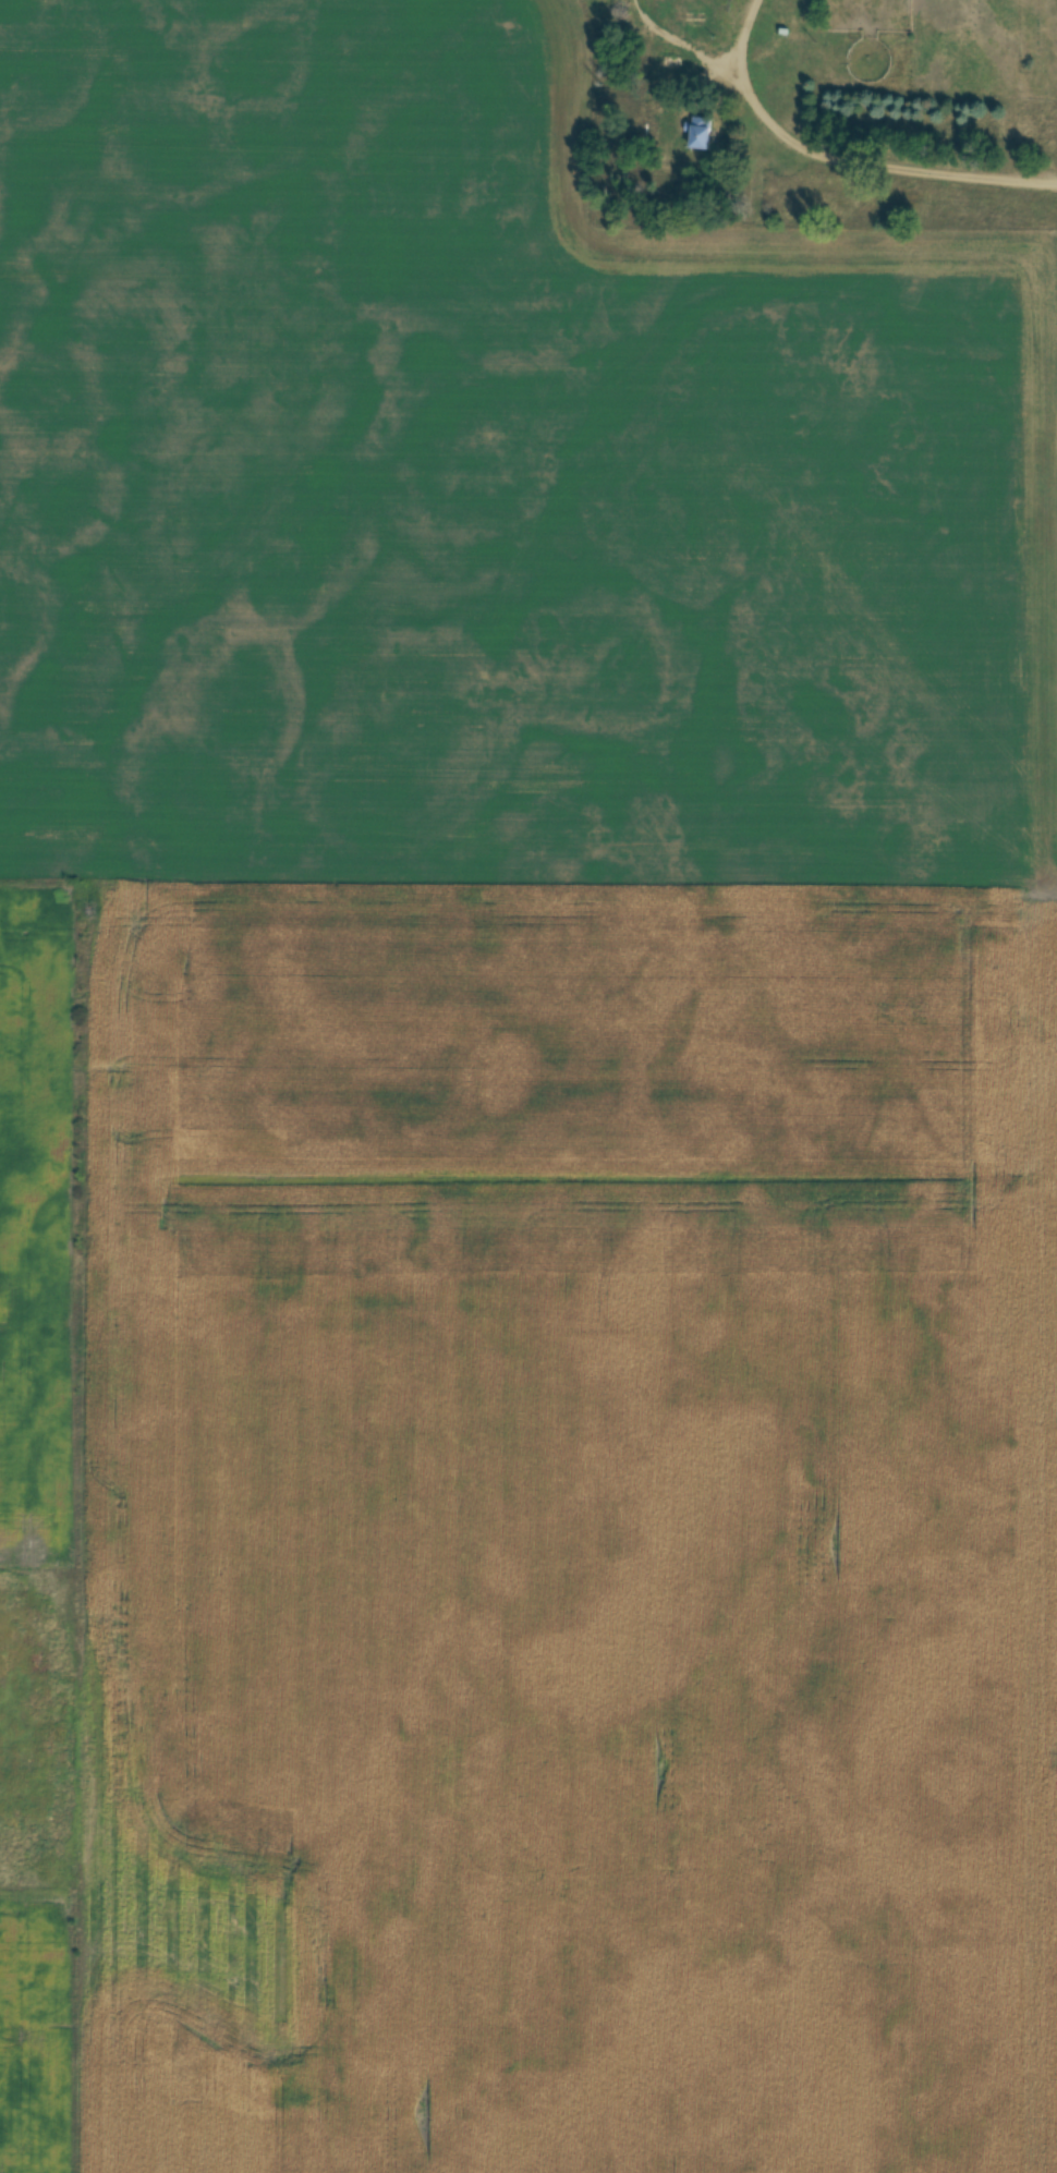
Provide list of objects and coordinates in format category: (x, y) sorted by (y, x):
building: (693, 21)
road: (656, 28)
building: (697, 132)
road: (842, 158)

